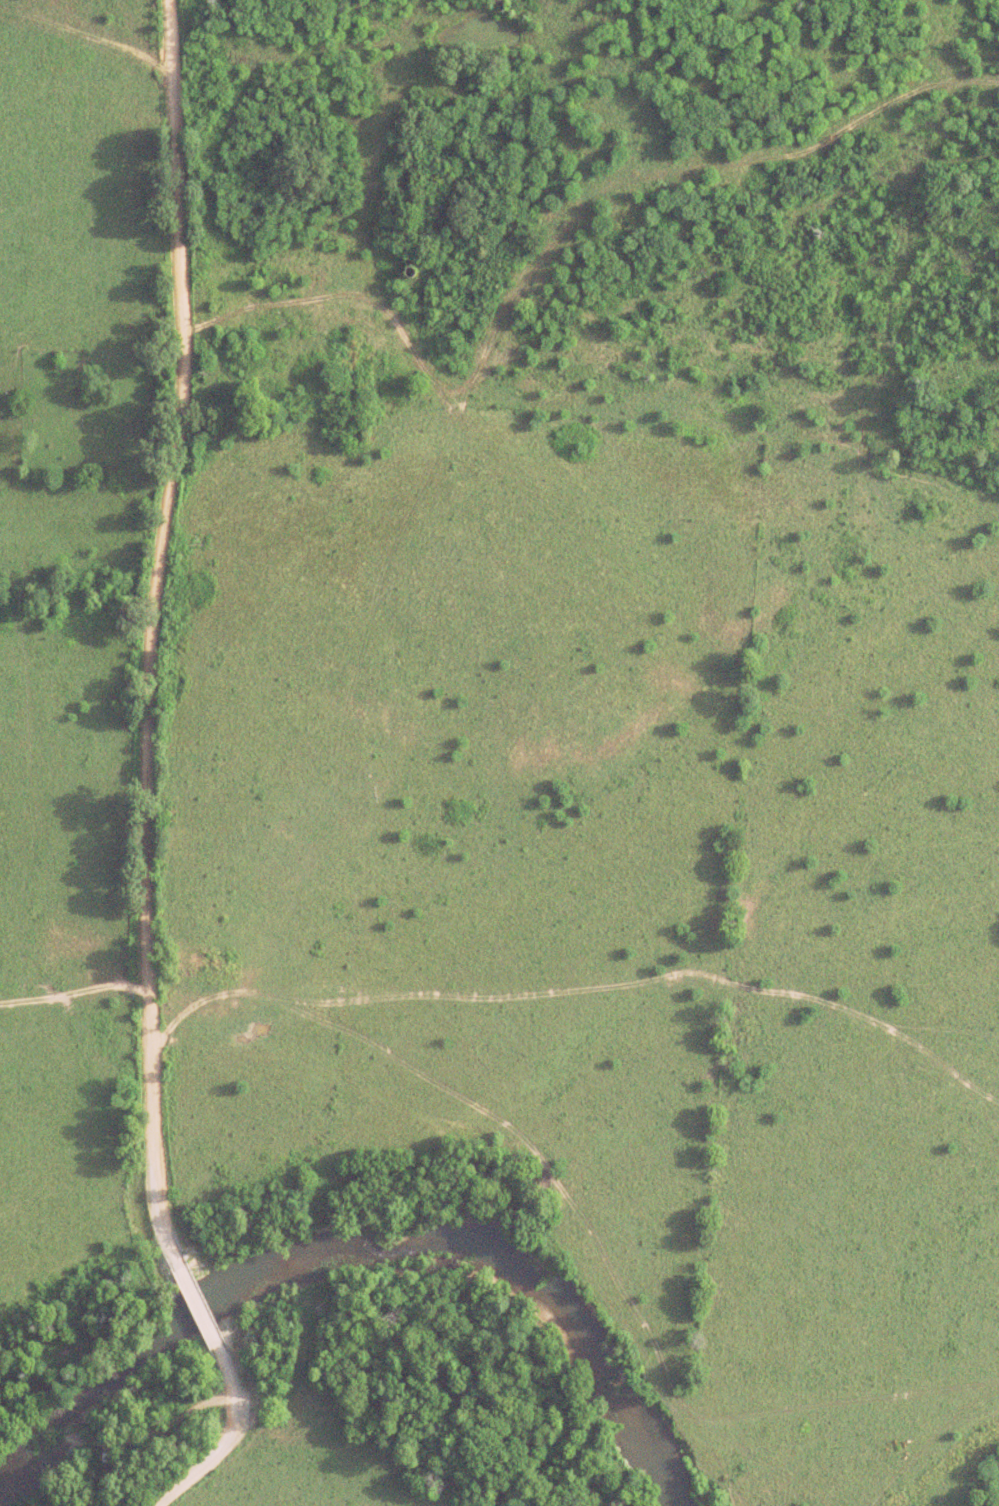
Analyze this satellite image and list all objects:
park: (92, 415)
road: (145, 773)

